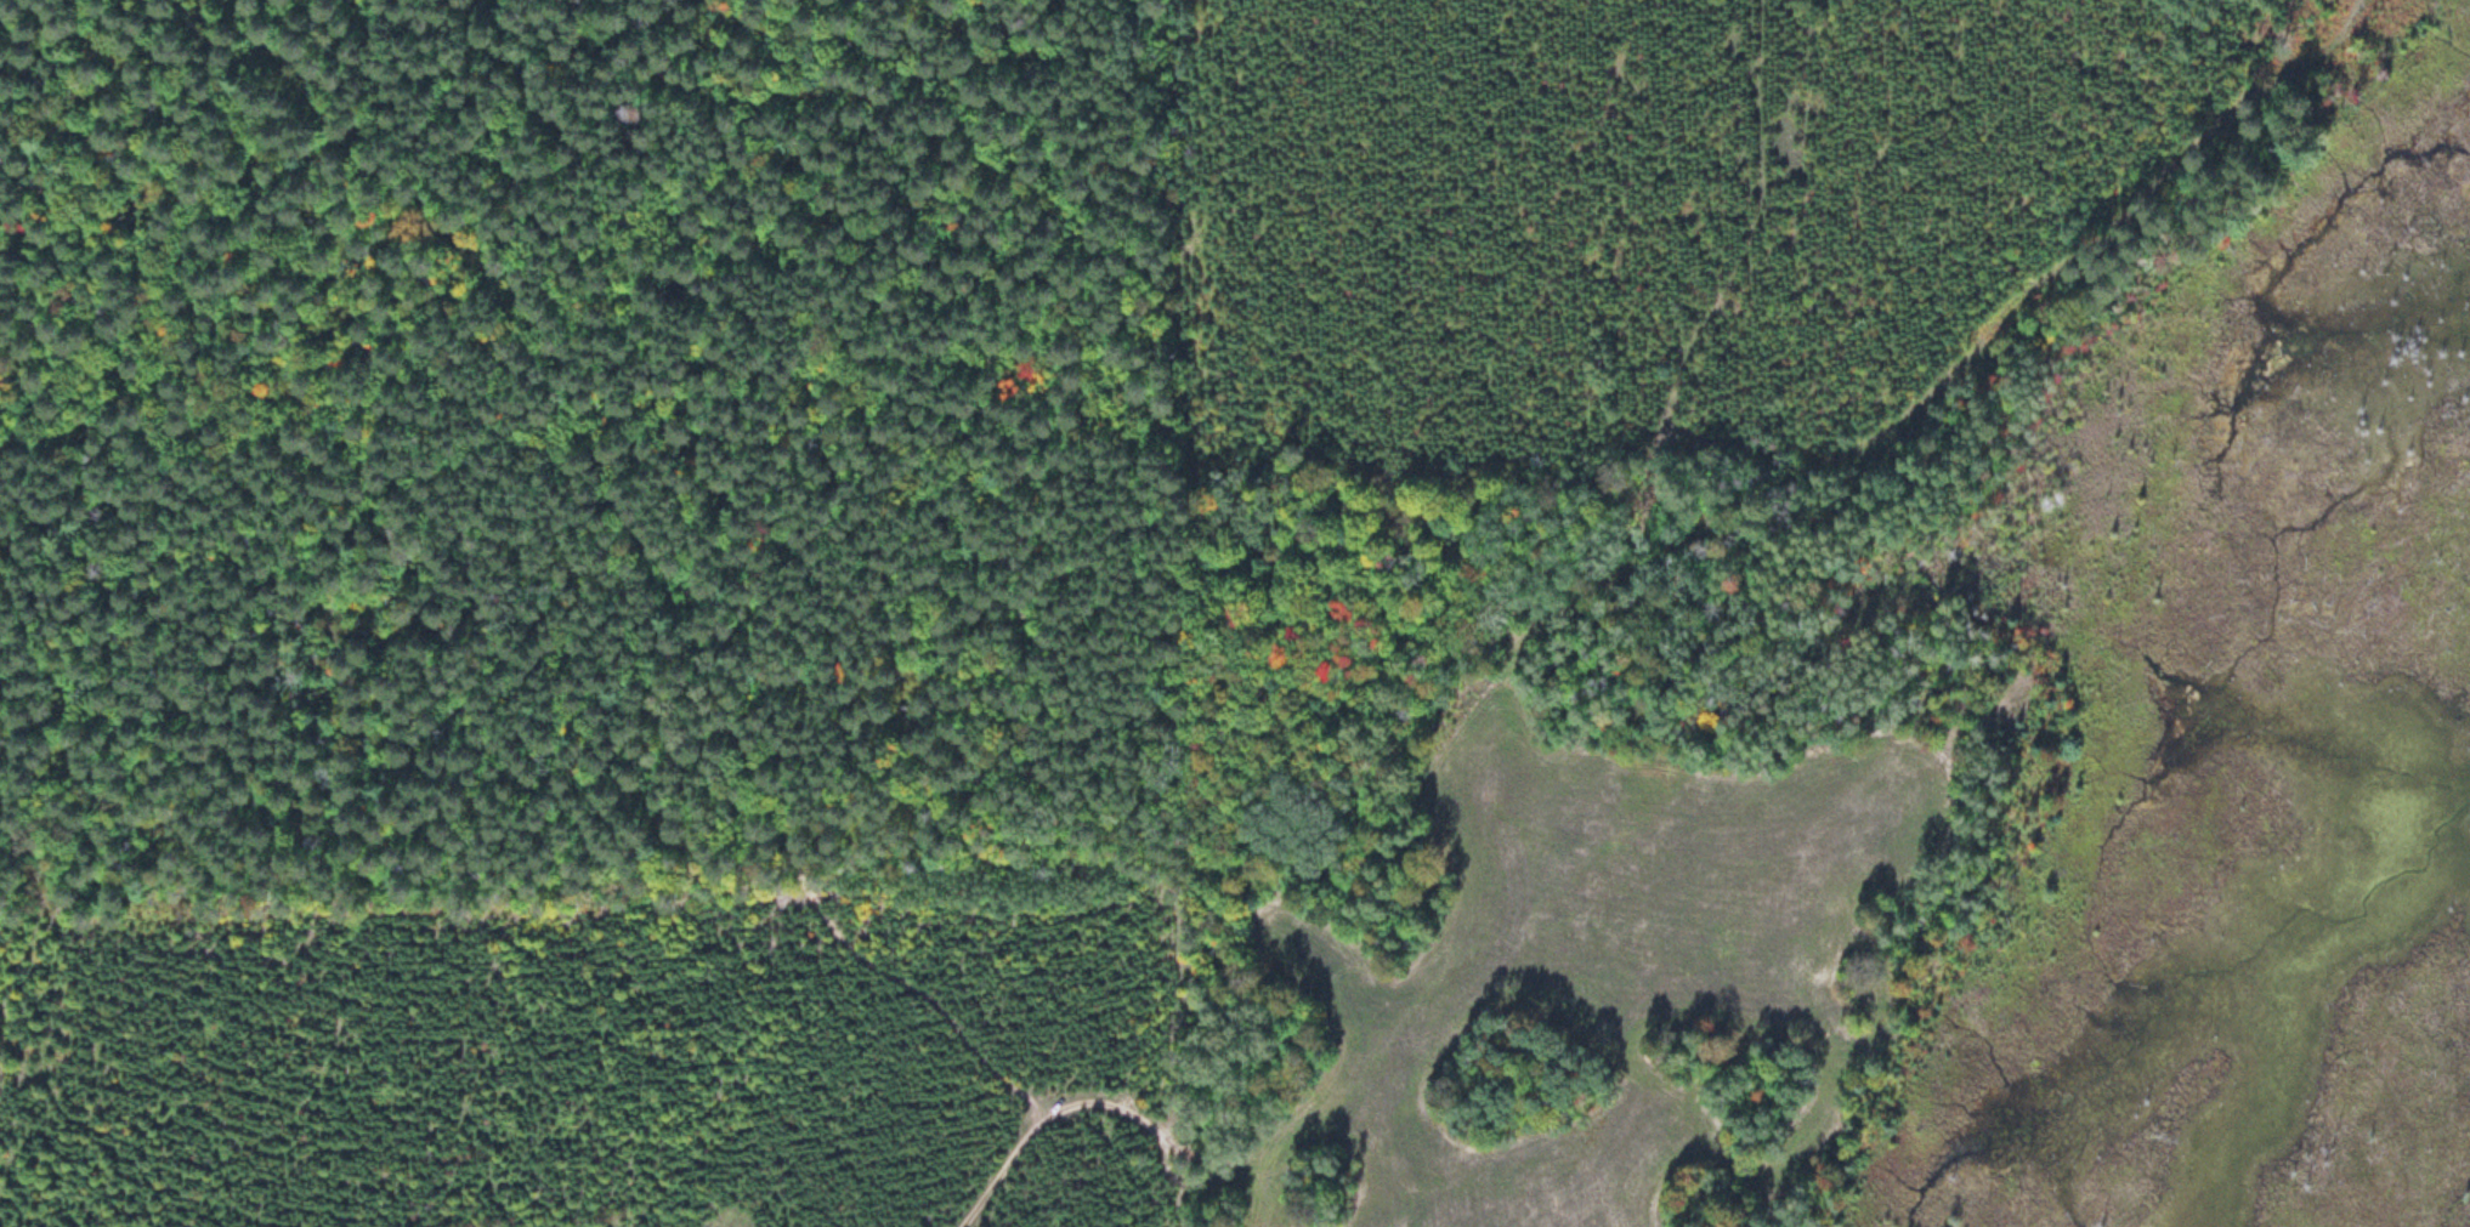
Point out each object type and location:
road: (70, 204)
road: (663, 549)
road: (1049, 1112)

